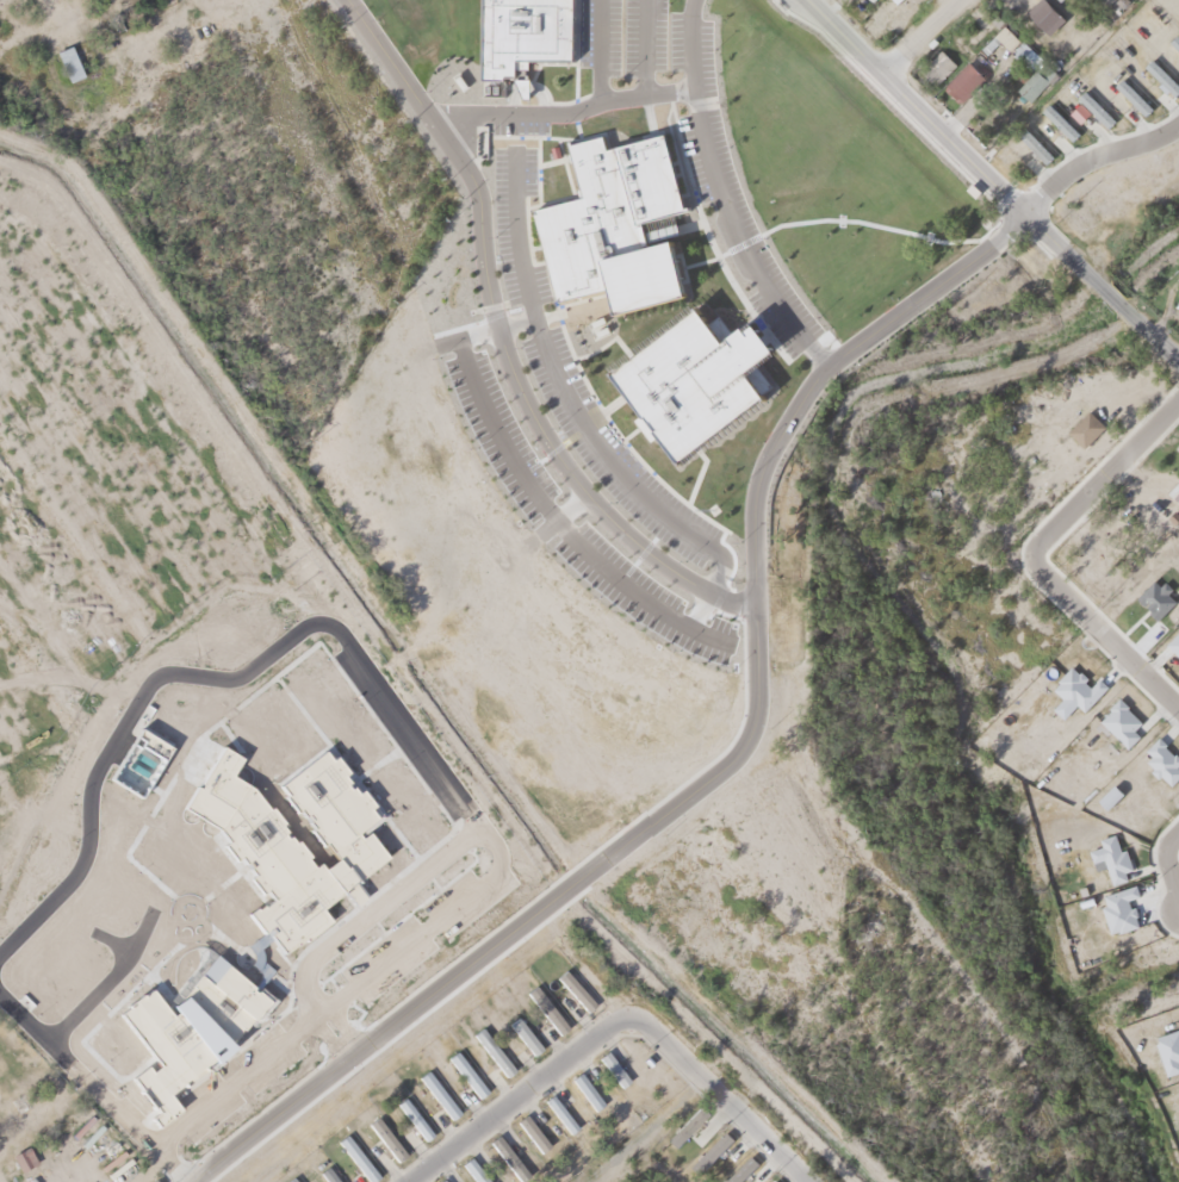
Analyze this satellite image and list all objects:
building: (1042, 12)
building: (521, 31)
road: (913, 38)
building: (1173, 39)
building: (1011, 43)
building: (67, 60)
building: (933, 63)
building: (1159, 73)
building: (961, 77)
building: (1129, 92)
building: (1092, 104)
road: (556, 114)
building: (1056, 117)
building: (1029, 139)
road: (1091, 156)
road: (983, 182)
road: (716, 195)
building: (645, 295)
road: (496, 340)
building: (1082, 424)
building: (1175, 442)
road: (1030, 561)
road: (722, 764)
road: (1169, 869)
building: (573, 988)
building: (545, 1007)
road: (608, 1025)
building: (522, 1032)
building: (490, 1047)
building: (609, 1066)
building: (464, 1071)
building: (584, 1088)
building: (436, 1091)
building: (557, 1109)
building: (411, 1115)
building: (683, 1122)
building: (529, 1130)
building: (383, 1134)
building: (706, 1149)
building: (20, 1155)
building: (355, 1155)
building: (505, 1155)
building: (736, 1168)
building: (472, 1169)
building: (327, 1174)
building: (288, 1178)
building: (438, 1180)
building: (770, 1180)

